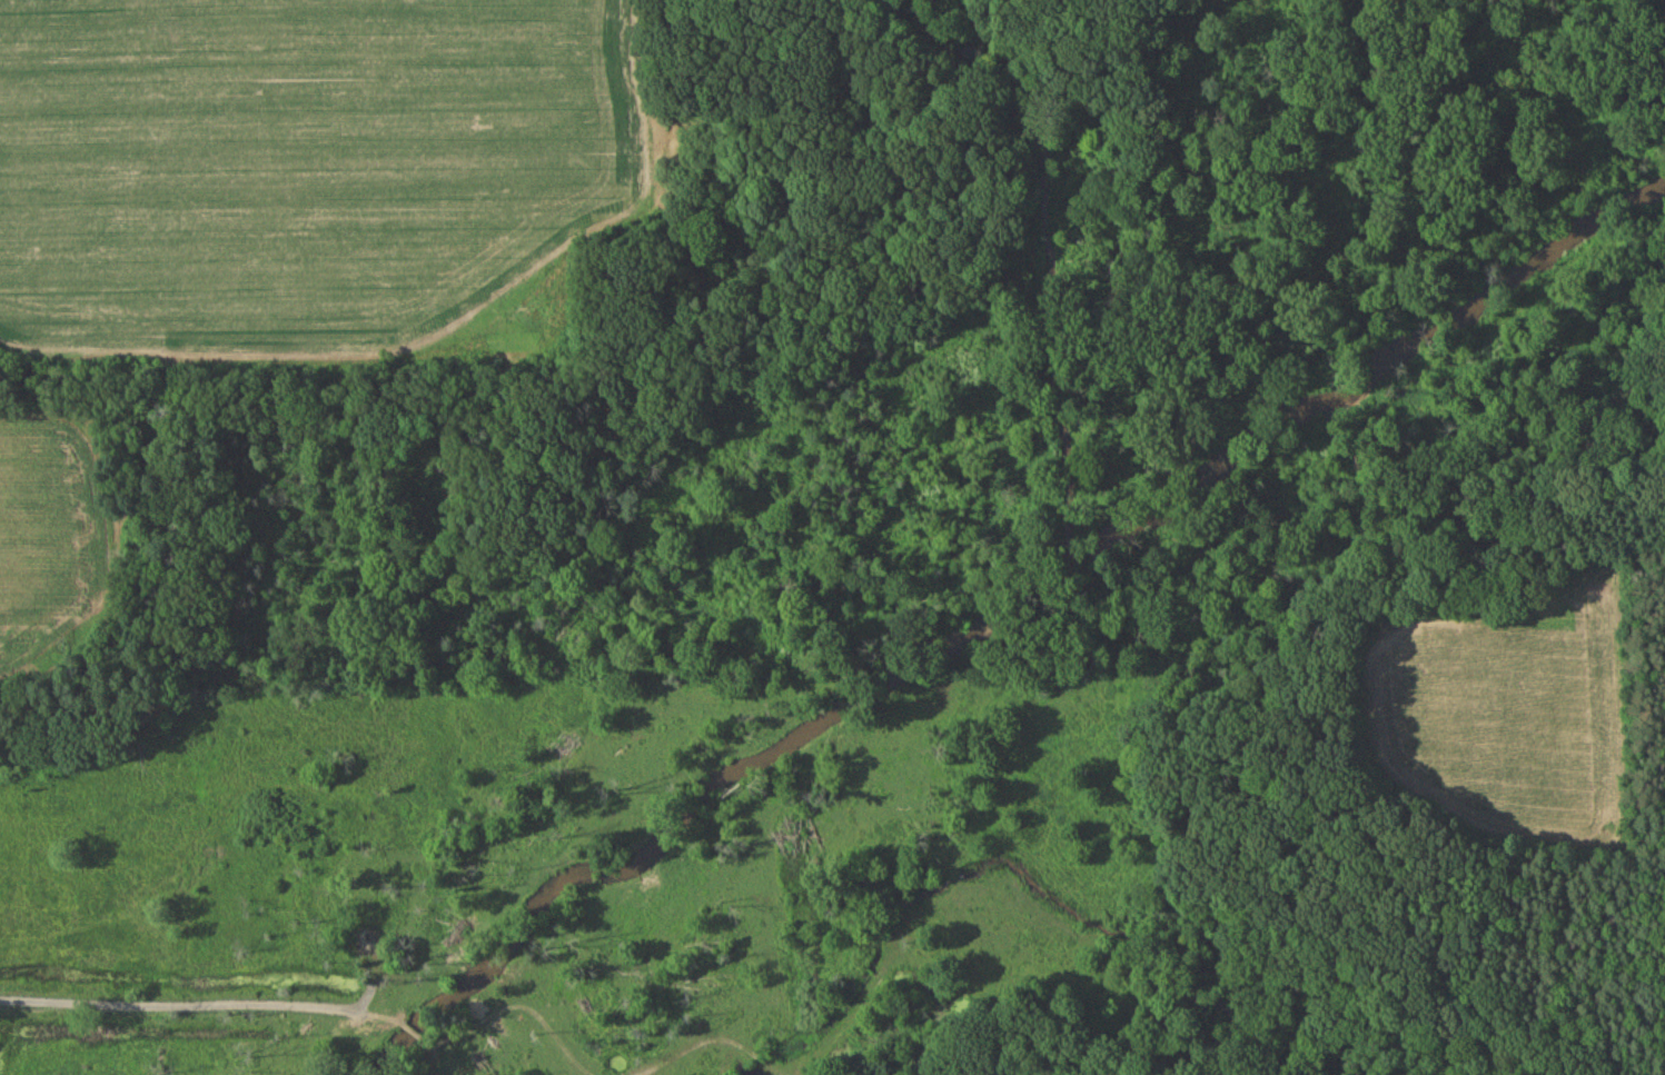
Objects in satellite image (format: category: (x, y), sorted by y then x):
road: (170, 1006)

